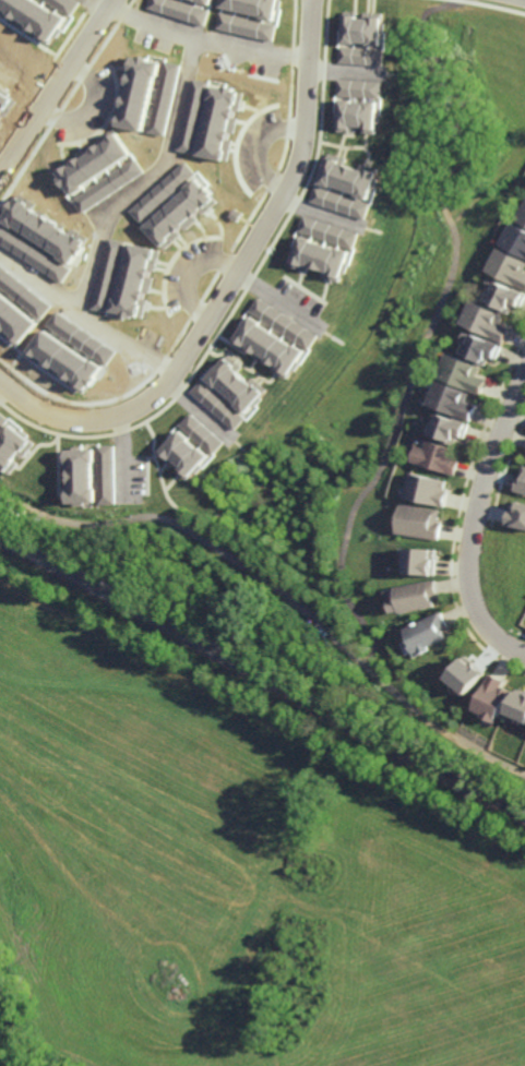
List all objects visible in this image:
building: (204, 1)
building: (67, 4)
building: (179, 10)
building: (34, 16)
building: (244, 26)
building: (361, 38)
road: (201, 40)
road: (52, 82)
road: (22, 83)
building: (360, 88)
building: (146, 95)
building: (189, 115)
building: (359, 116)
building: (217, 122)
building: (99, 169)
building: (348, 176)
road: (144, 179)
building: (160, 191)
building: (341, 202)
building: (179, 213)
building: (522, 216)
building: (330, 231)
building: (515, 239)
building: (322, 259)
building: (509, 267)
building: (106, 274)
road: (224, 279)
building: (133, 280)
building: (505, 298)
road: (83, 314)
building: (15, 319)
building: (486, 322)
building: (276, 337)
building: (481, 350)
building: (67, 359)
building: (462, 375)
building: (239, 385)
building: (420, 399)
building: (451, 403)
building: (220, 405)
building: (3, 420)
building: (449, 431)
building: (14, 446)
road: (124, 453)
building: (435, 459)
road: (159, 462)
building: (524, 462)
building: (110, 474)
building: (84, 476)
building: (521, 484)
building: (427, 489)
building: (418, 522)
road: (466, 523)
building: (420, 561)
road: (281, 591)
building: (414, 597)
building: (382, 621)
building: (427, 630)
railway: (262, 674)
building: (492, 696)
building: (518, 705)
building: (462, 721)

